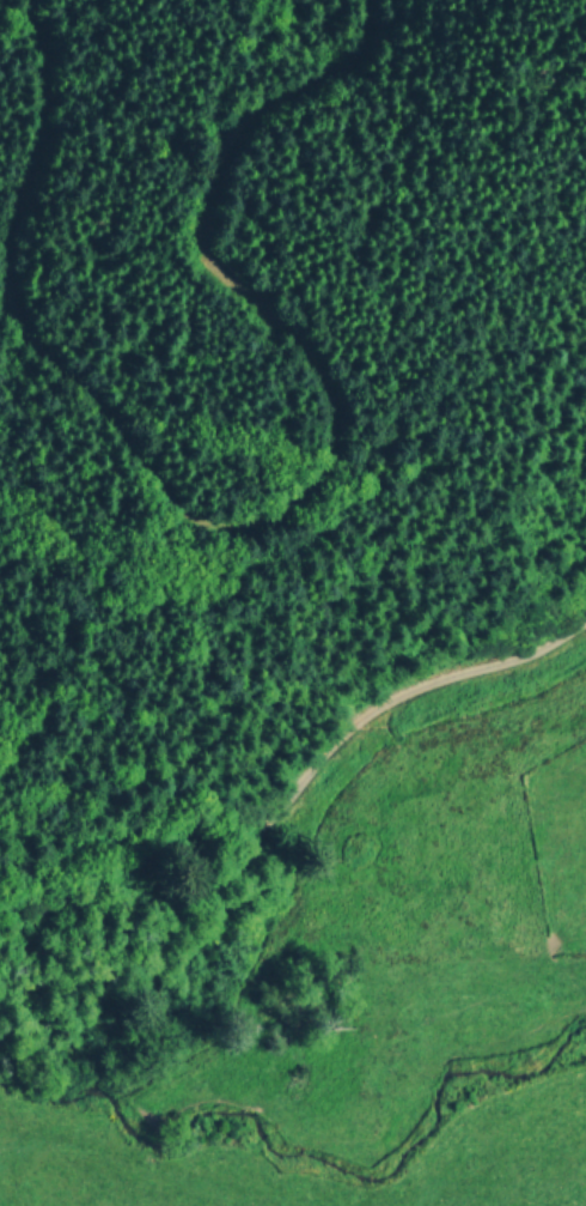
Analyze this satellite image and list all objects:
road: (279, 520)
road: (303, 825)
crop: (353, 1028)

